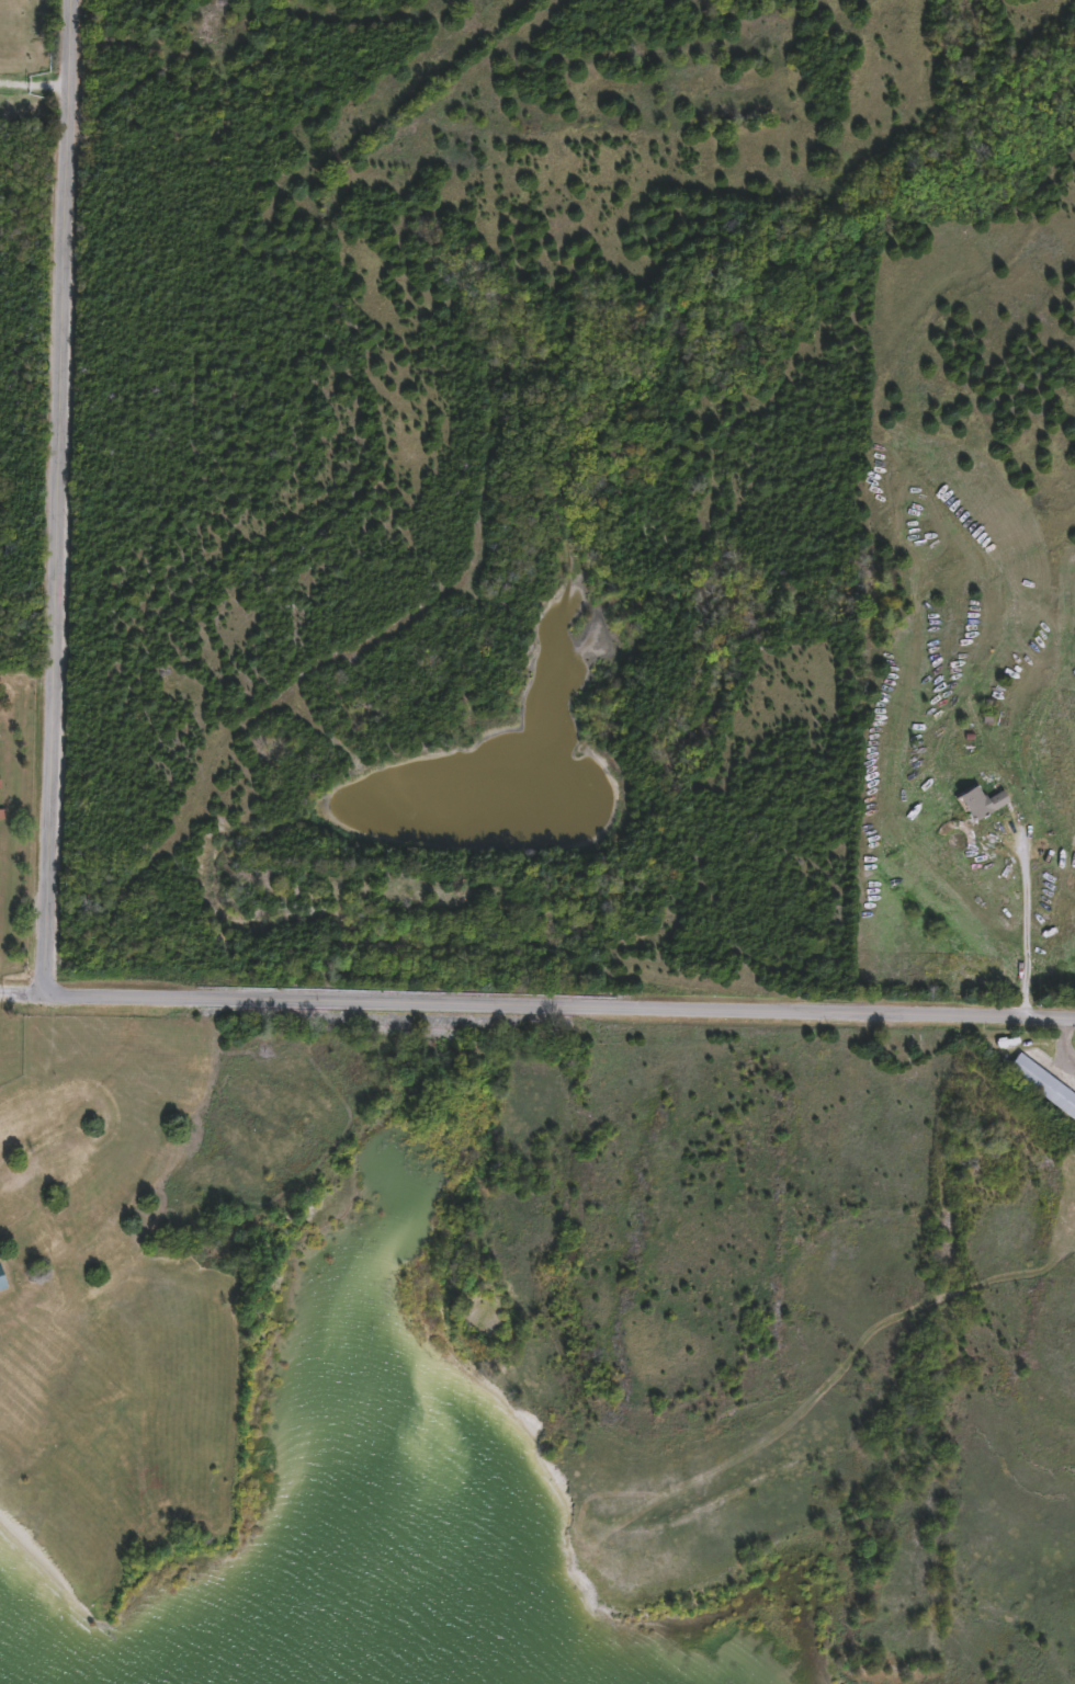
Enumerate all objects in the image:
road: (38, 91)
road: (64, 498)
building: (977, 804)
building: (1, 813)
park: (487, 890)
road: (1025, 918)
road: (22, 994)
road: (559, 1006)
building: (998, 1043)
building: (1042, 1085)
road: (64, 1093)
road: (49, 1167)
building: (1, 1283)

